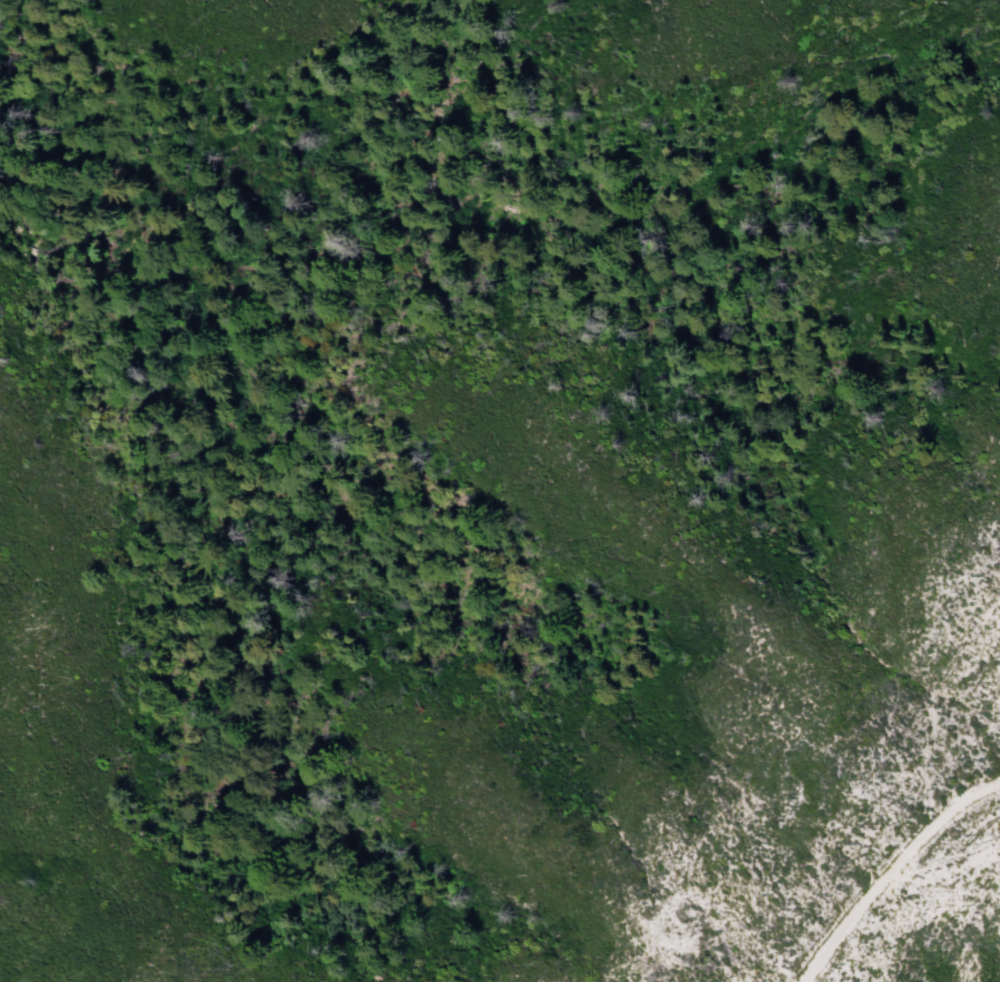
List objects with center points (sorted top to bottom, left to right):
road: (936, 863)
road: (889, 871)

